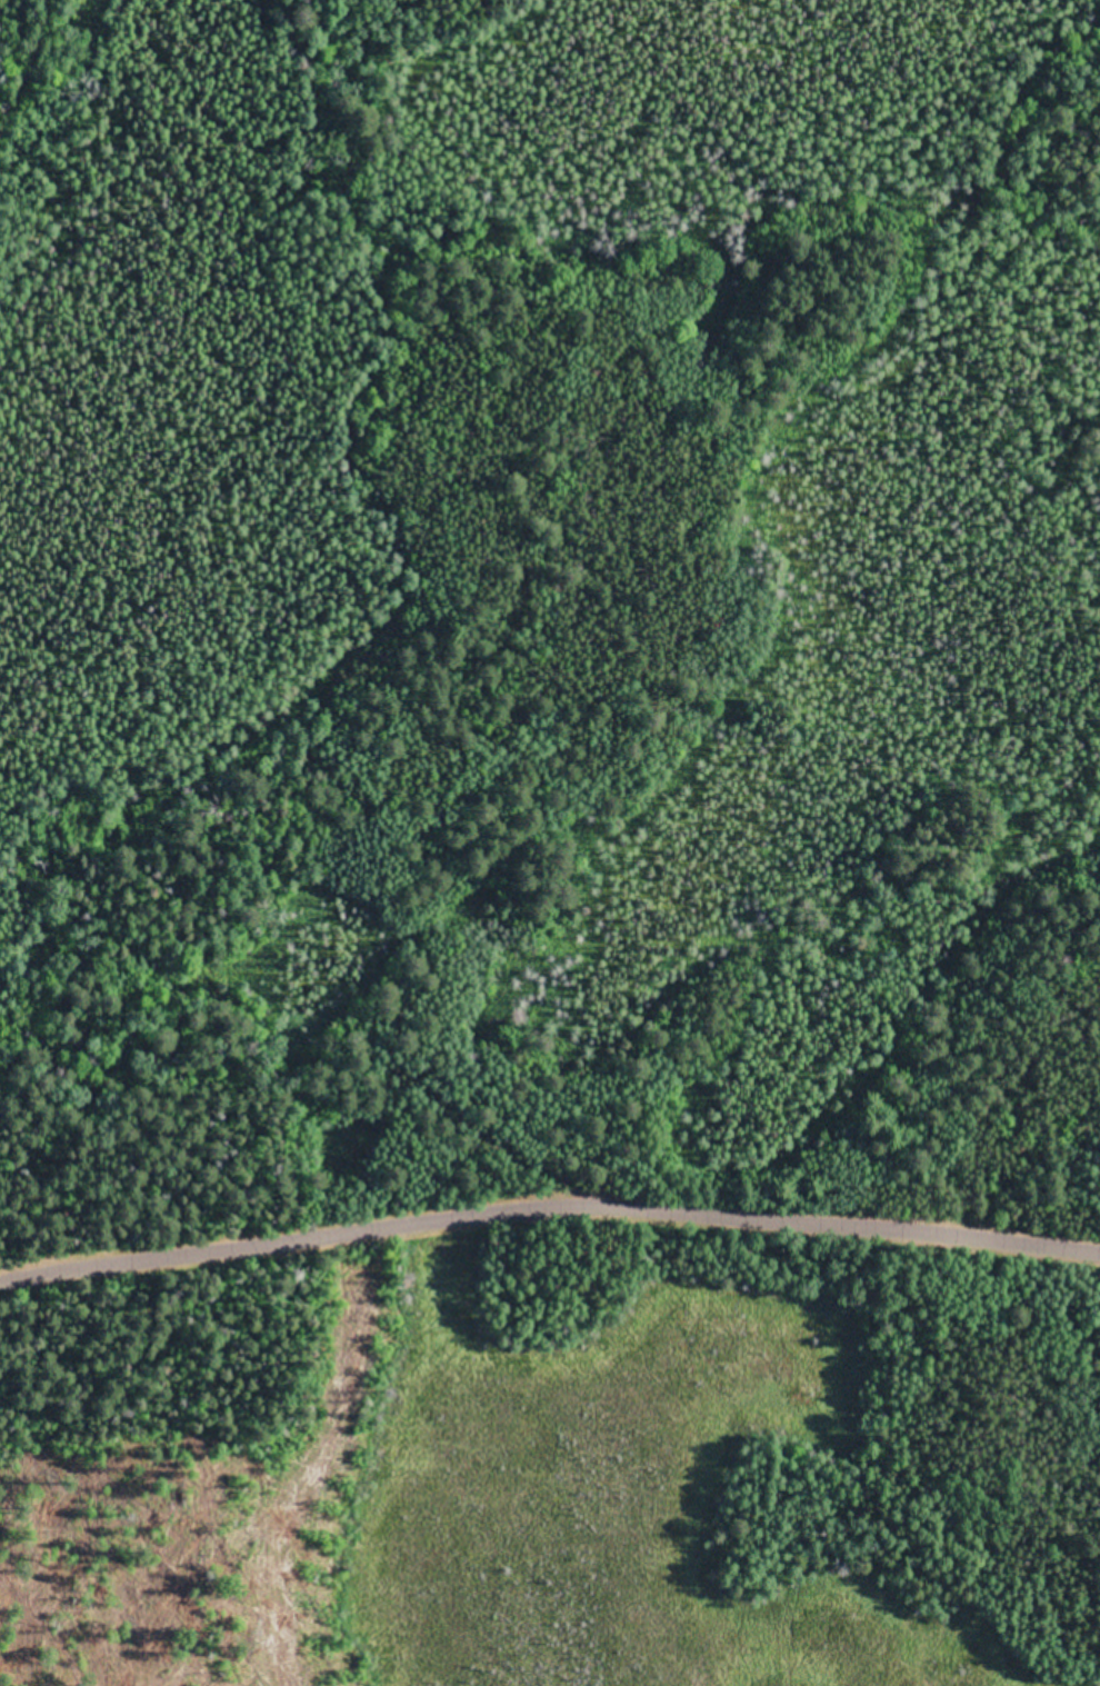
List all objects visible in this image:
road: (547, 1191)

